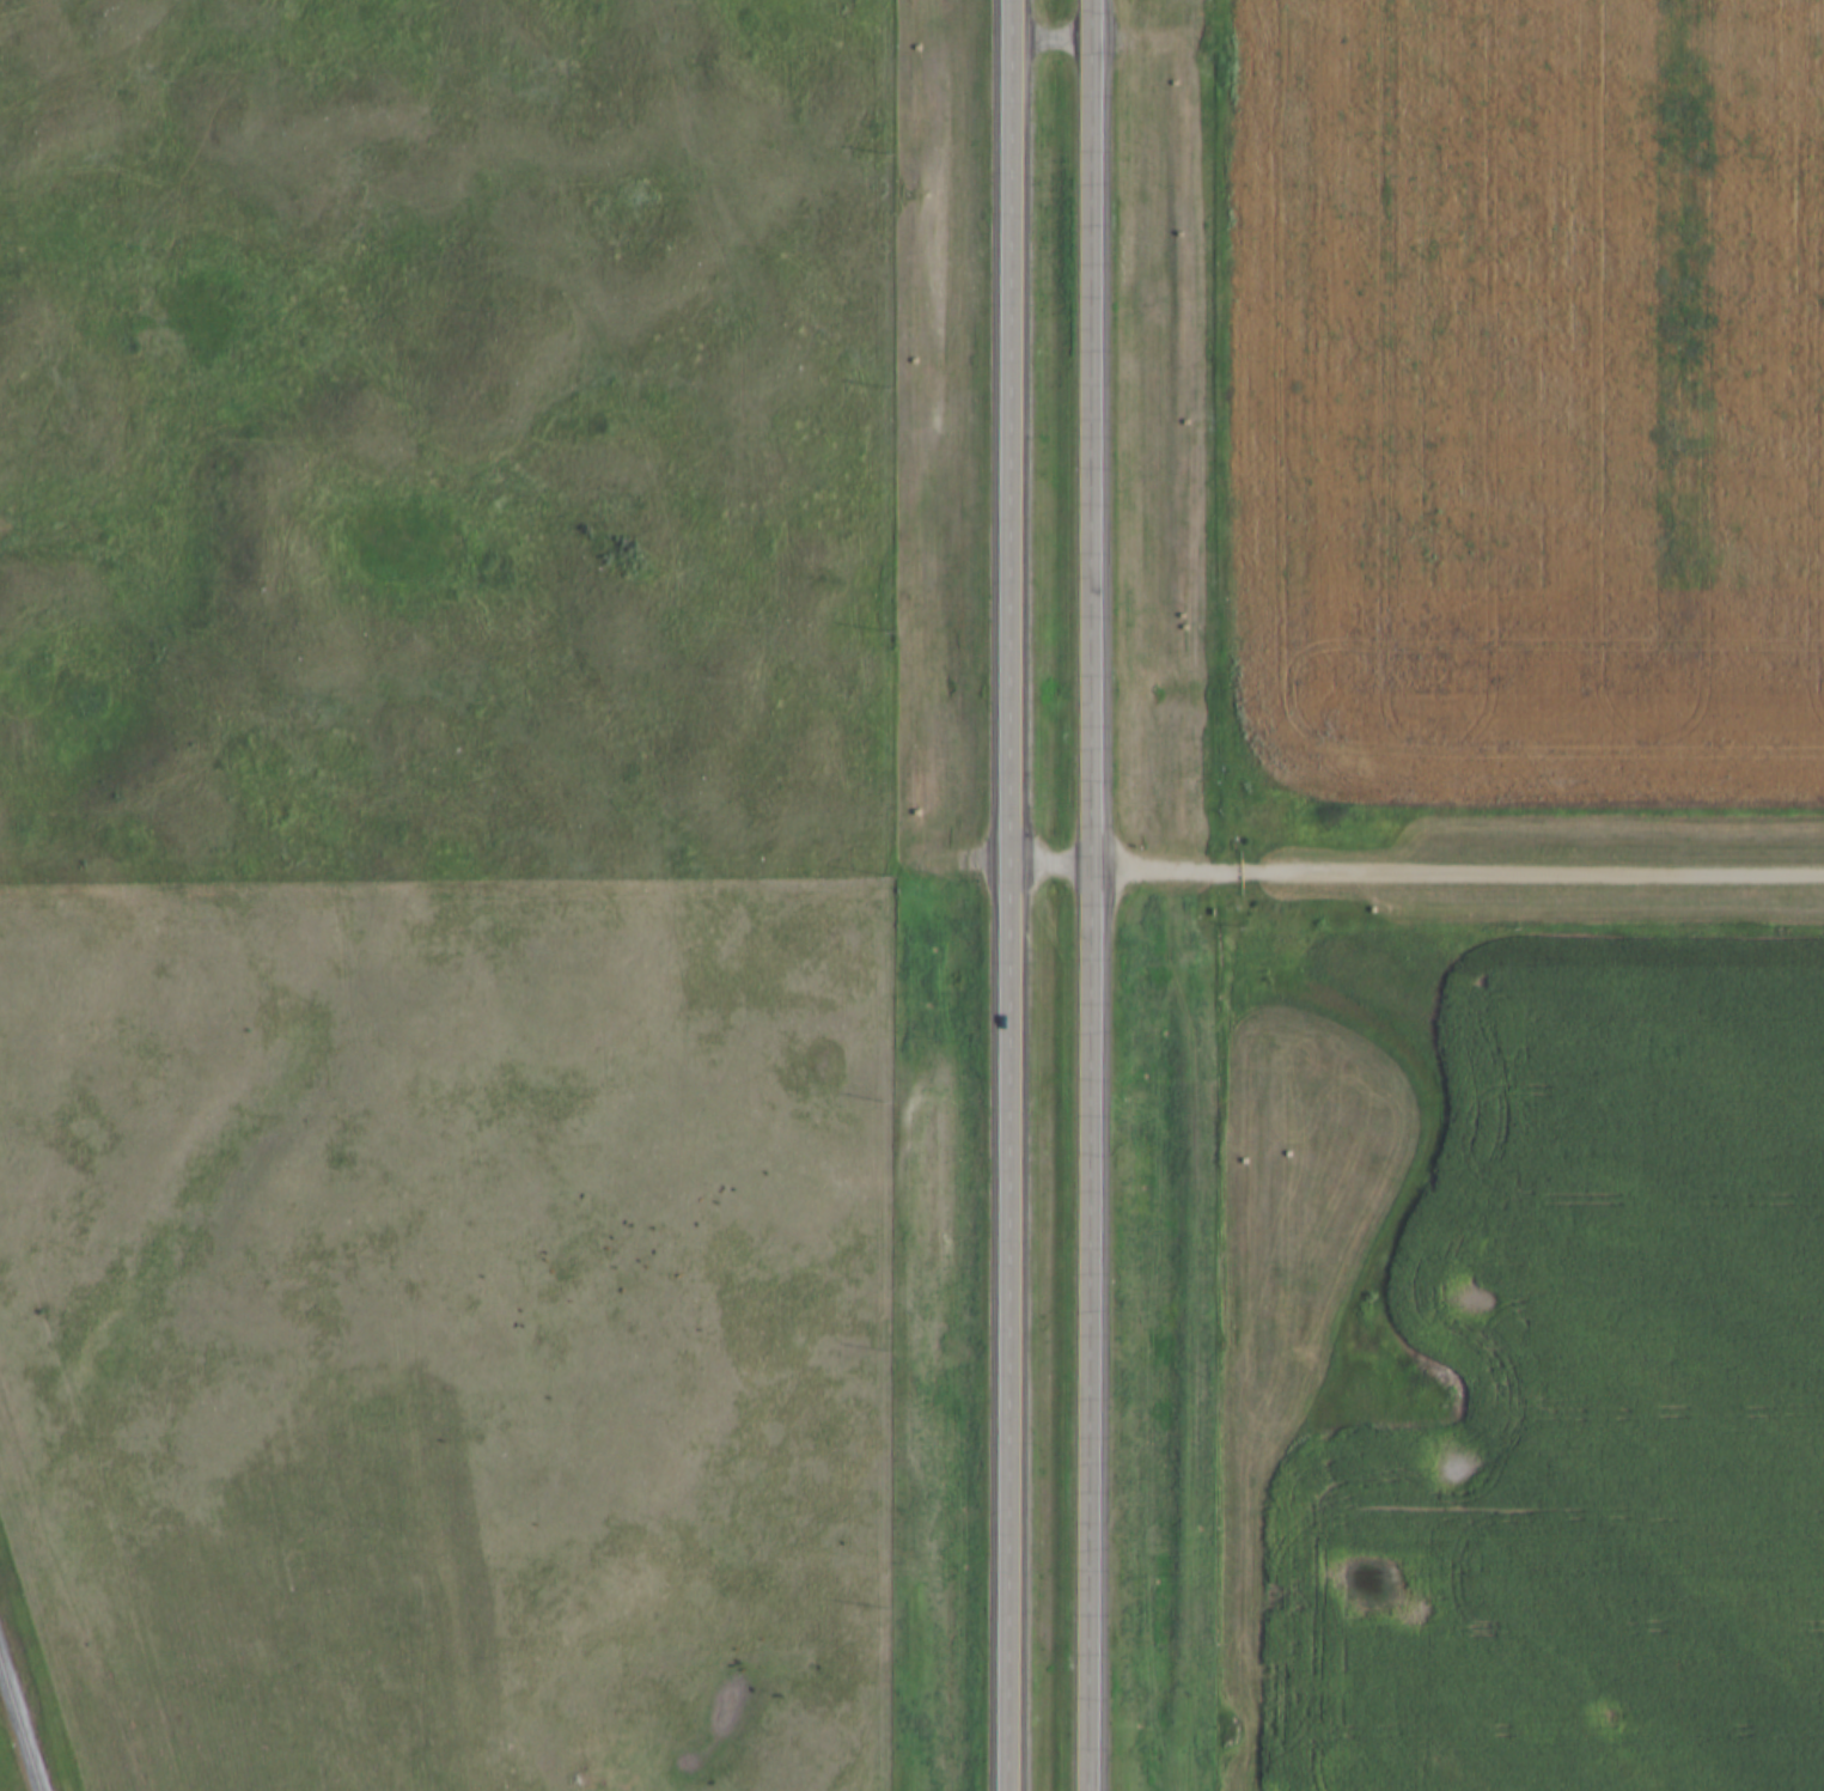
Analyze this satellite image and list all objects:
road: (1054, 867)
road: (1458, 869)
road: (1013, 895)
road: (1092, 895)
railway: (32, 1681)

